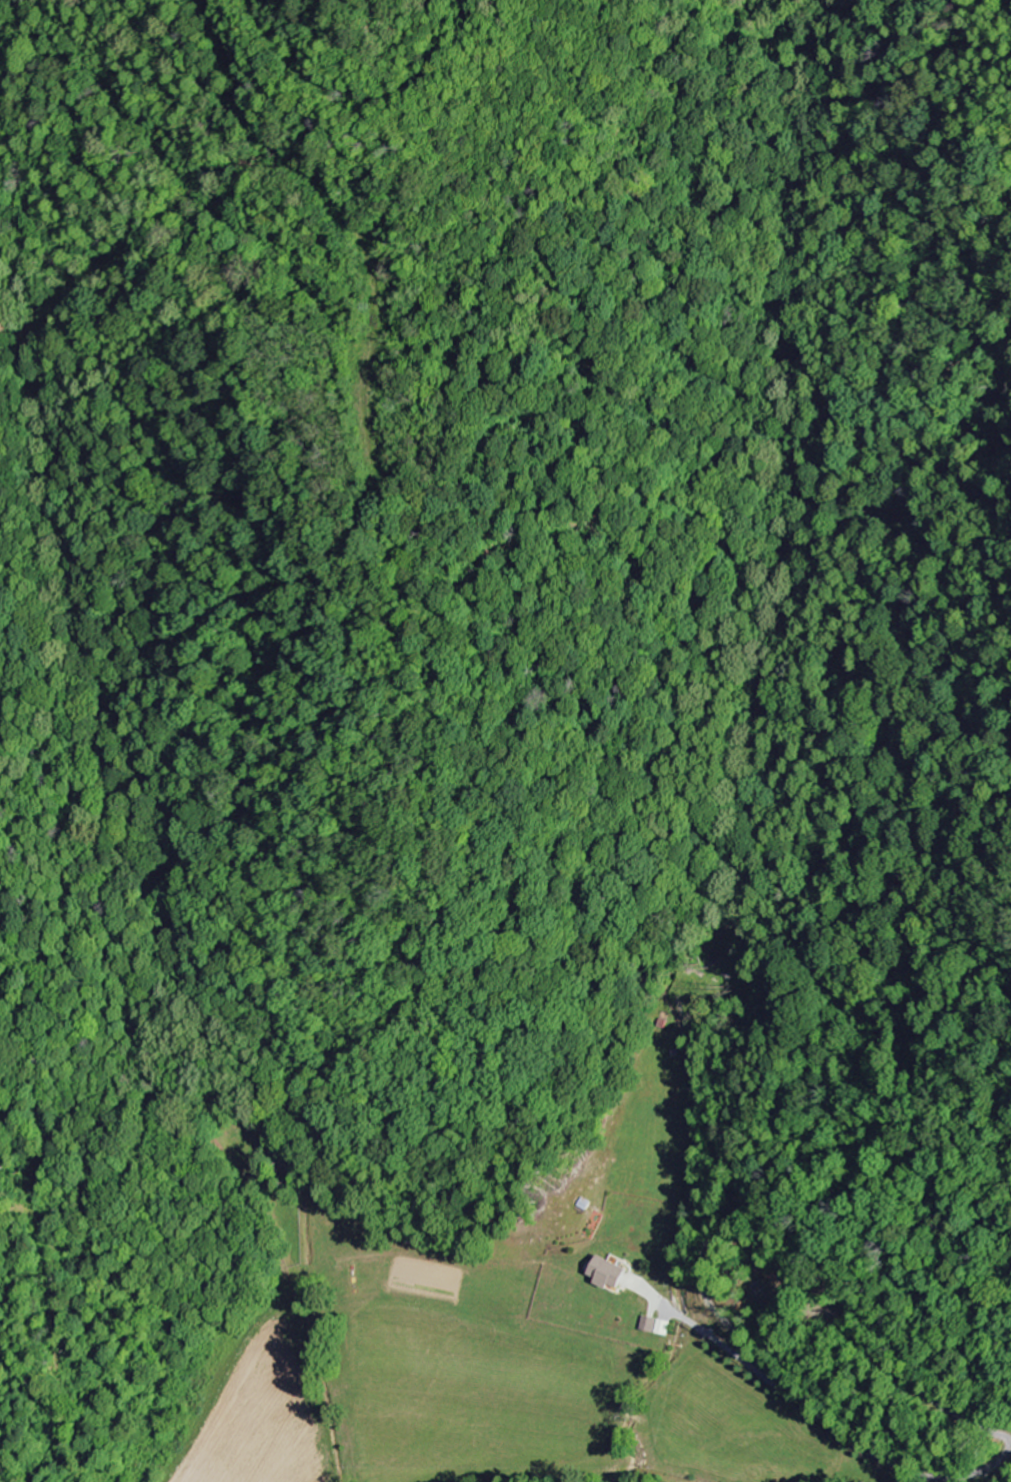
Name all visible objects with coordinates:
building: (607, 1275)
building: (654, 1327)
road: (777, 1377)

